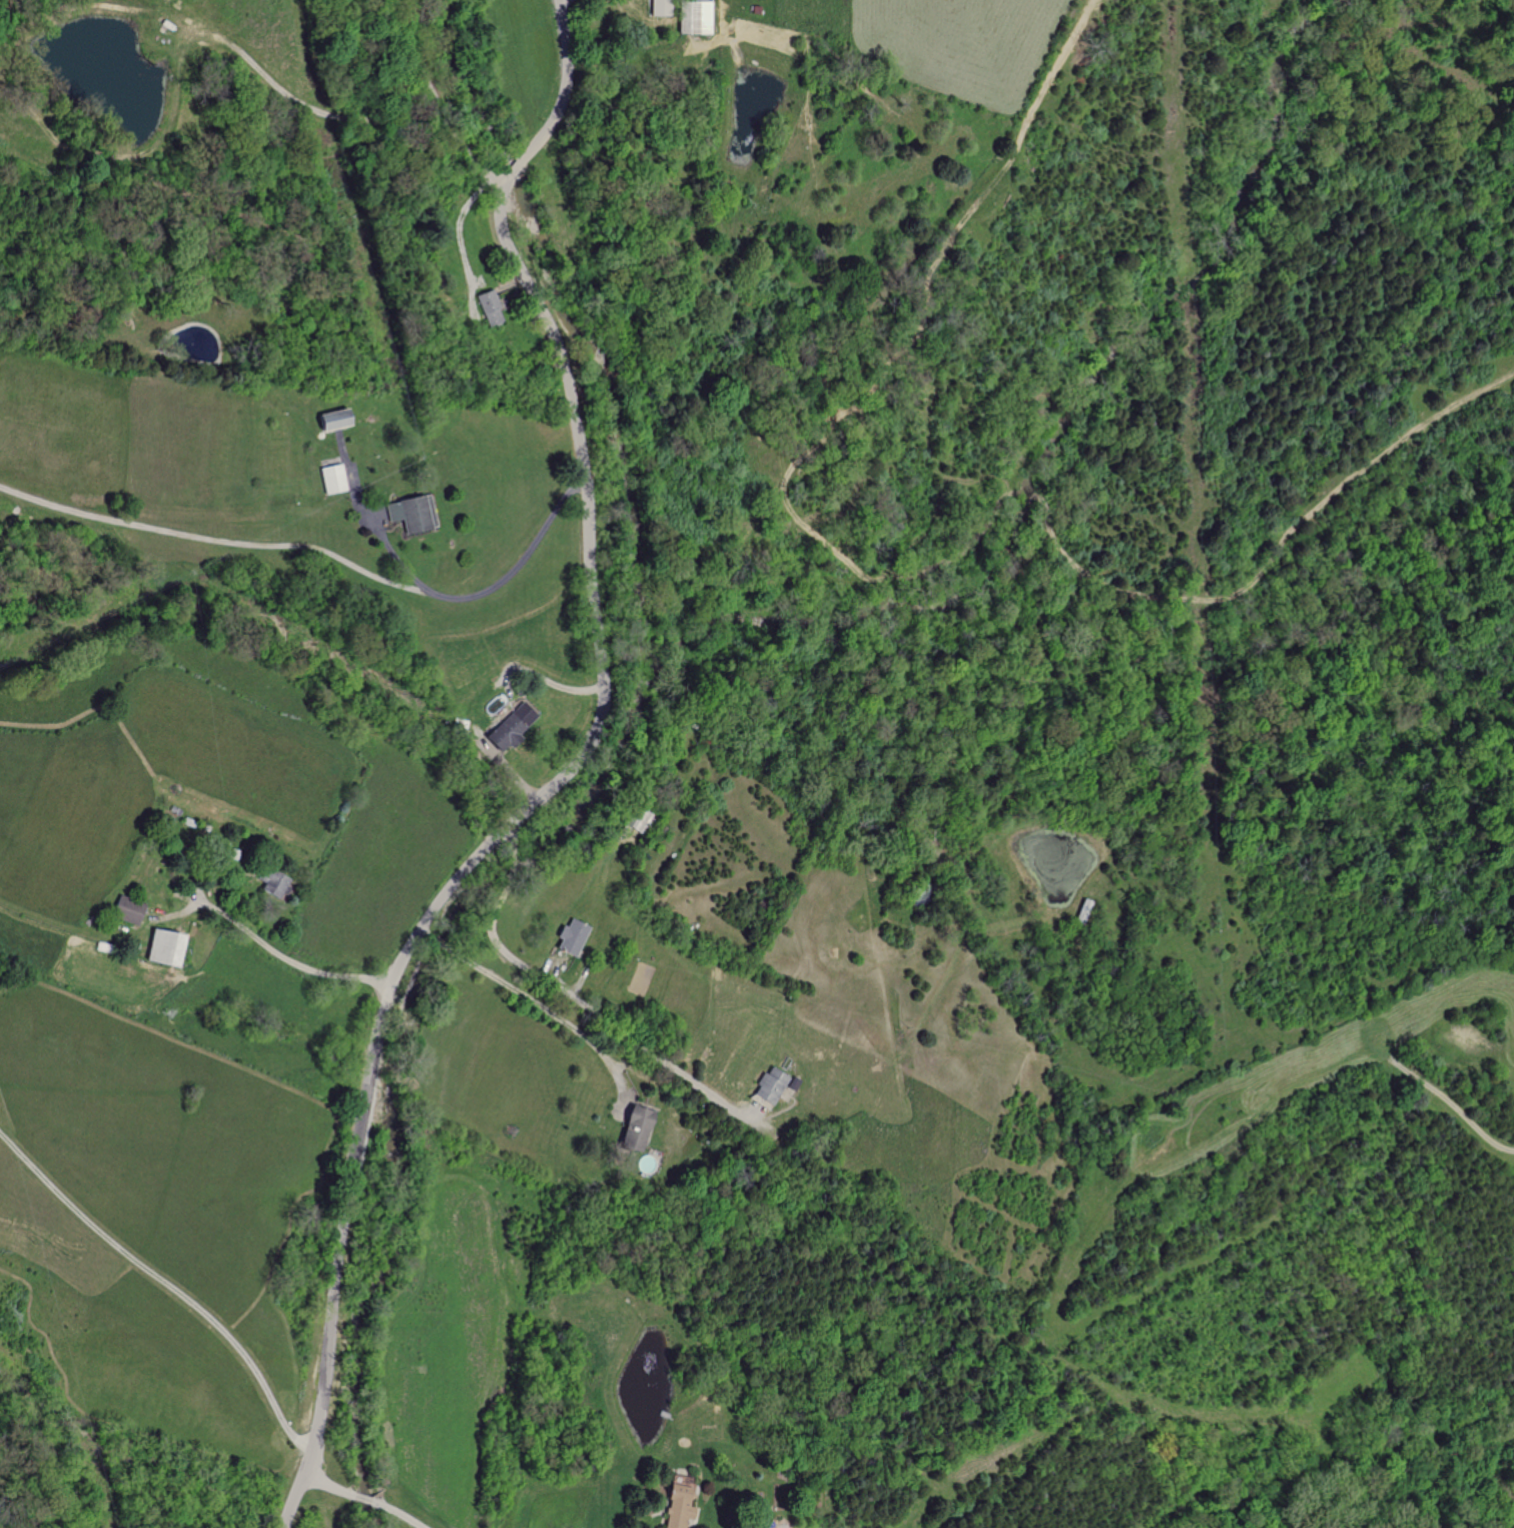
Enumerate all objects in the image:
building: (659, 7)
road: (444, 98)
building: (487, 307)
building: (327, 420)
building: (329, 478)
building: (409, 513)
road: (366, 522)
road: (320, 548)
building: (507, 727)
road: (561, 777)
building: (268, 883)
building: (127, 910)
building: (569, 938)
building: (158, 948)
road: (283, 955)
road: (569, 990)
road: (539, 1003)
building: (767, 1086)
building: (634, 1129)
road: (167, 1284)
road: (360, 1497)
building: (677, 1505)

